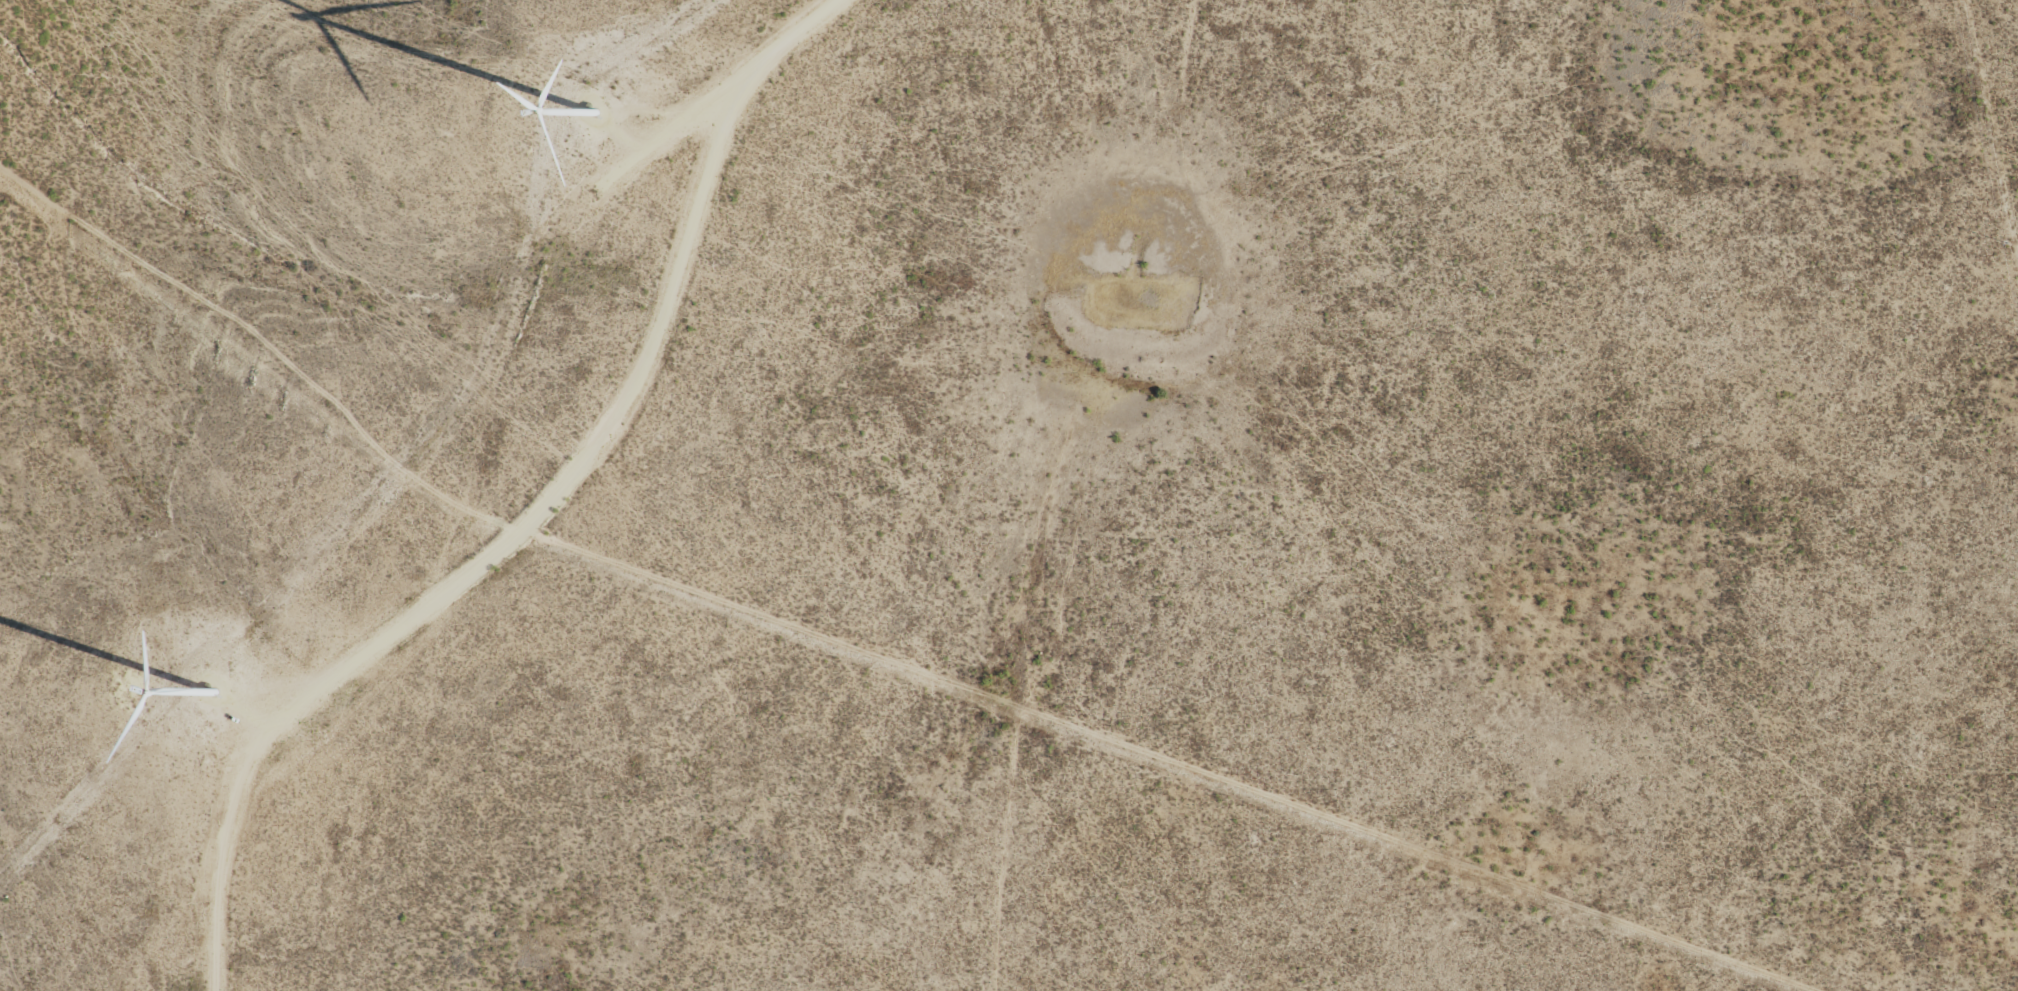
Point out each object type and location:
wind turbine: (589, 110)
power tower: (2006, 246)
wind turbine: (201, 689)

